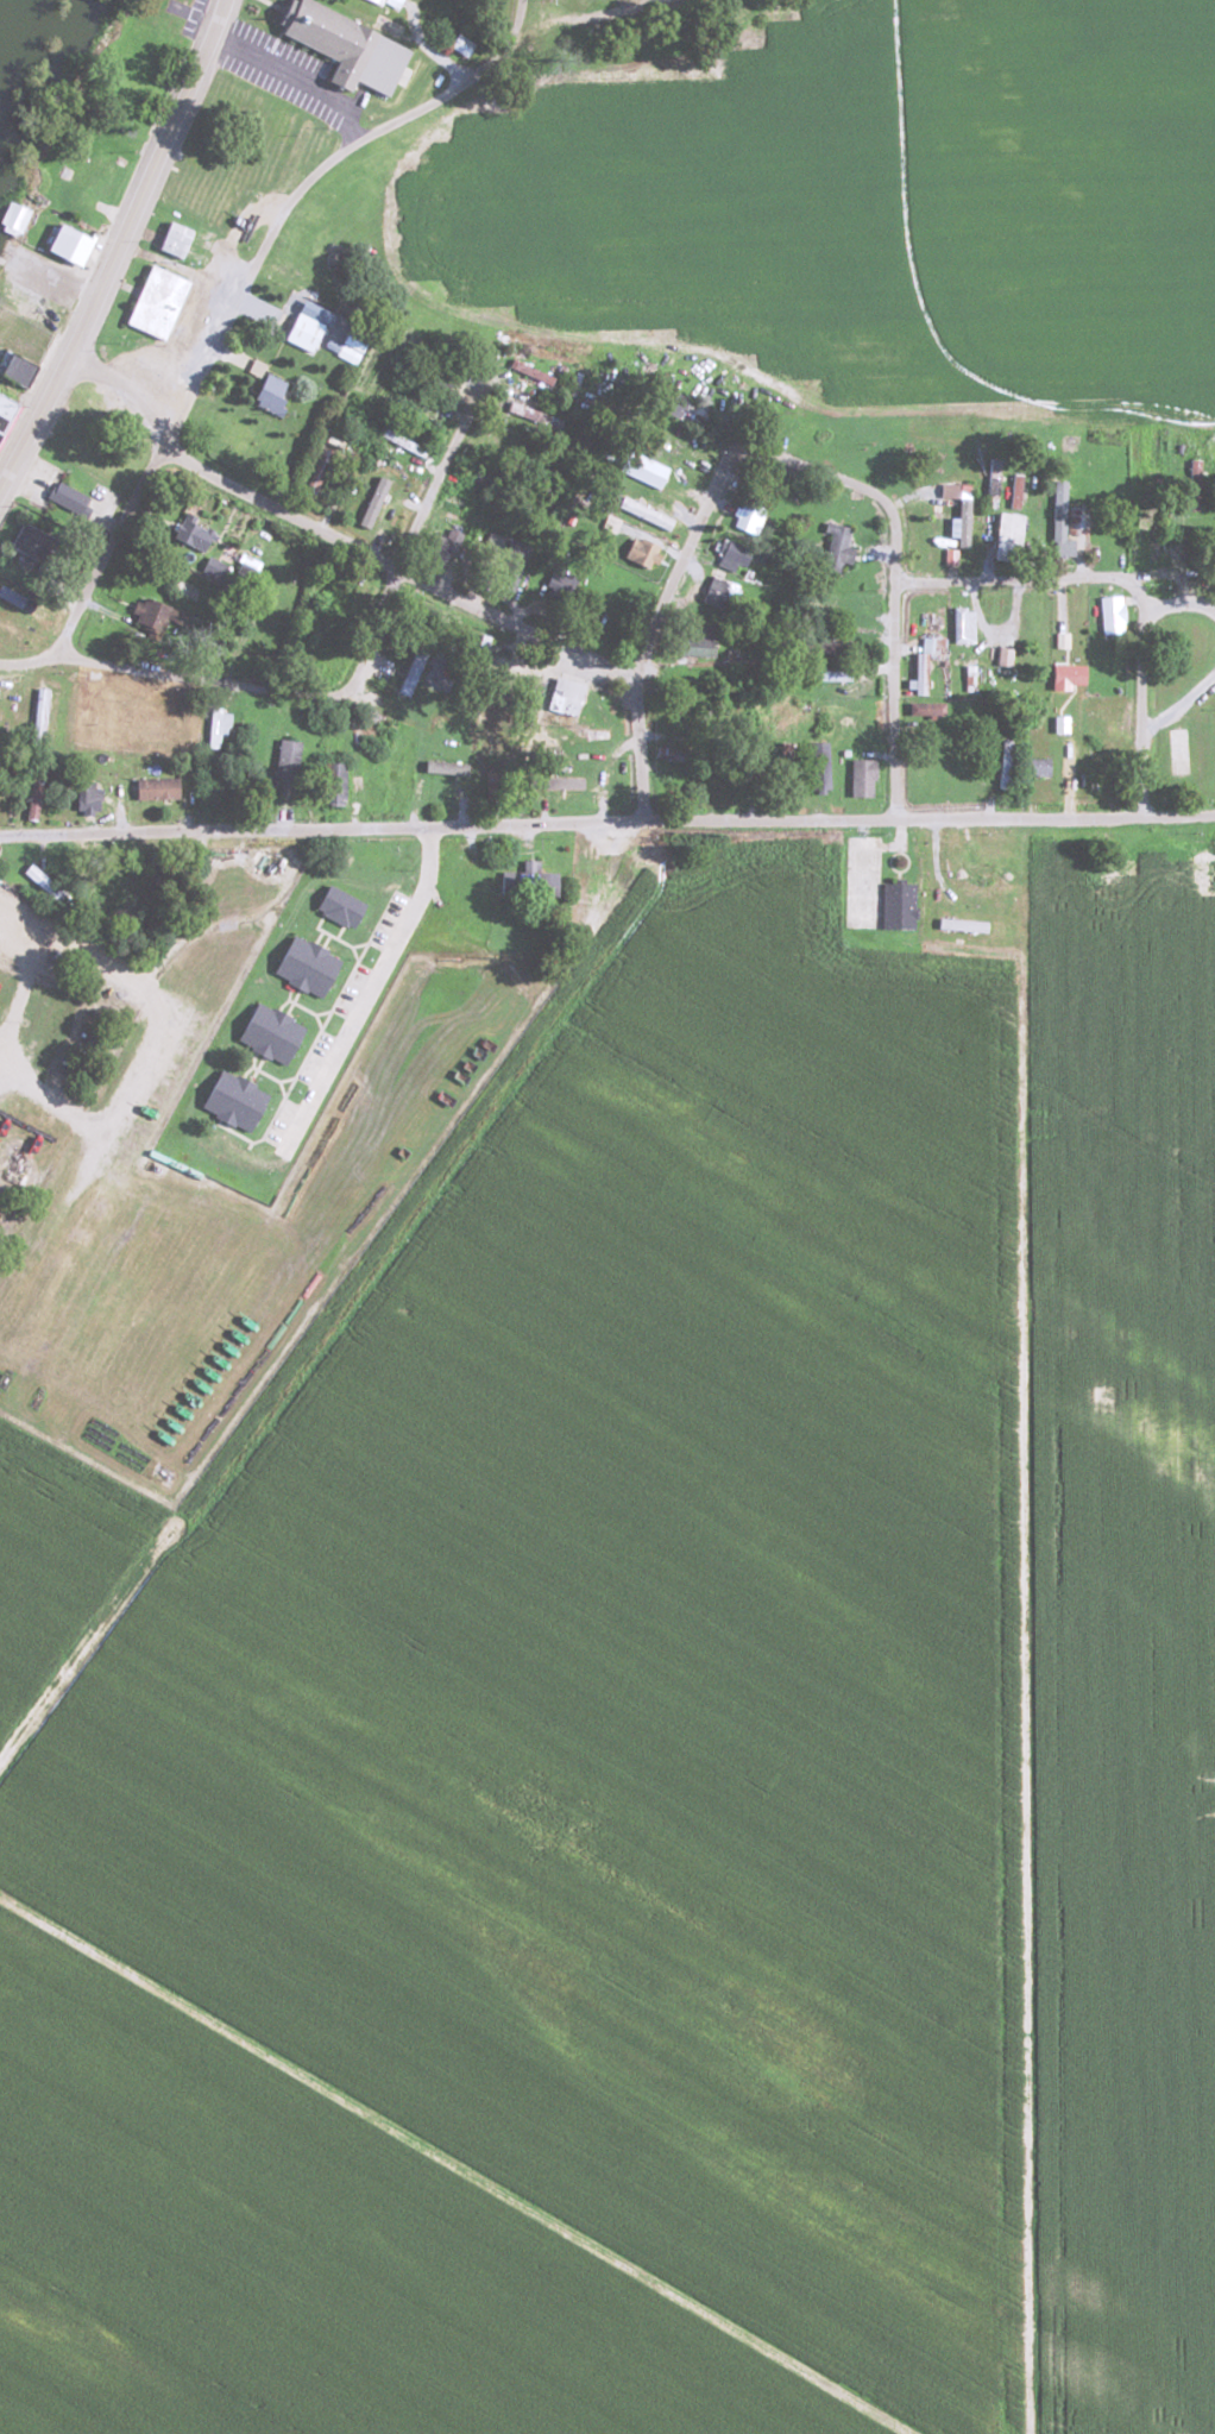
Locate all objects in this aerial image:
road: (604, 17)
road: (543, 20)
road: (432, 37)
building: (339, 48)
building: (86, 183)
road: (304, 185)
building: (11, 220)
building: (170, 239)
road: (117, 241)
building: (61, 244)
building: (152, 302)
building: (298, 332)
building: (346, 350)
building: (536, 379)
building: (432, 382)
building: (269, 395)
building: (687, 413)
building: (247, 446)
road: (832, 480)
building: (59, 502)
building: (651, 516)
road: (422, 521)
building: (958, 530)
building: (190, 534)
building: (1003, 535)
building: (23, 541)
building: (1058, 541)
road: (341, 542)
building: (1101, 543)
road: (105, 547)
building: (831, 547)
building: (635, 551)
building: (728, 556)
building: (509, 566)
building: (208, 568)
road: (1134, 579)
building: (717, 591)
building: (841, 603)
building: (1108, 615)
building: (959, 625)
road: (659, 643)
building: (690, 644)
building: (389, 667)
road: (178, 672)
building: (917, 673)
road: (899, 698)
building: (36, 716)
building: (97, 723)
building: (213, 724)
building: (149, 727)
building: (439, 732)
building: (250, 741)
building: (586, 741)
building: (668, 754)
building: (283, 757)
road: (358, 762)
building: (999, 762)
building: (781, 765)
building: (1034, 766)
building: (443, 772)
building: (405, 775)
building: (857, 778)
building: (329, 782)
building: (151, 788)
building: (84, 795)
building: (31, 797)
road: (606, 823)
building: (600, 870)
building: (977, 873)
building: (525, 881)
building: (43, 886)
building: (335, 906)
building: (895, 906)
building: (958, 925)
road: (95, 948)
building: (301, 966)
road: (166, 1033)
building: (265, 1033)
building: (229, 1100)
road: (1011, 1625)

